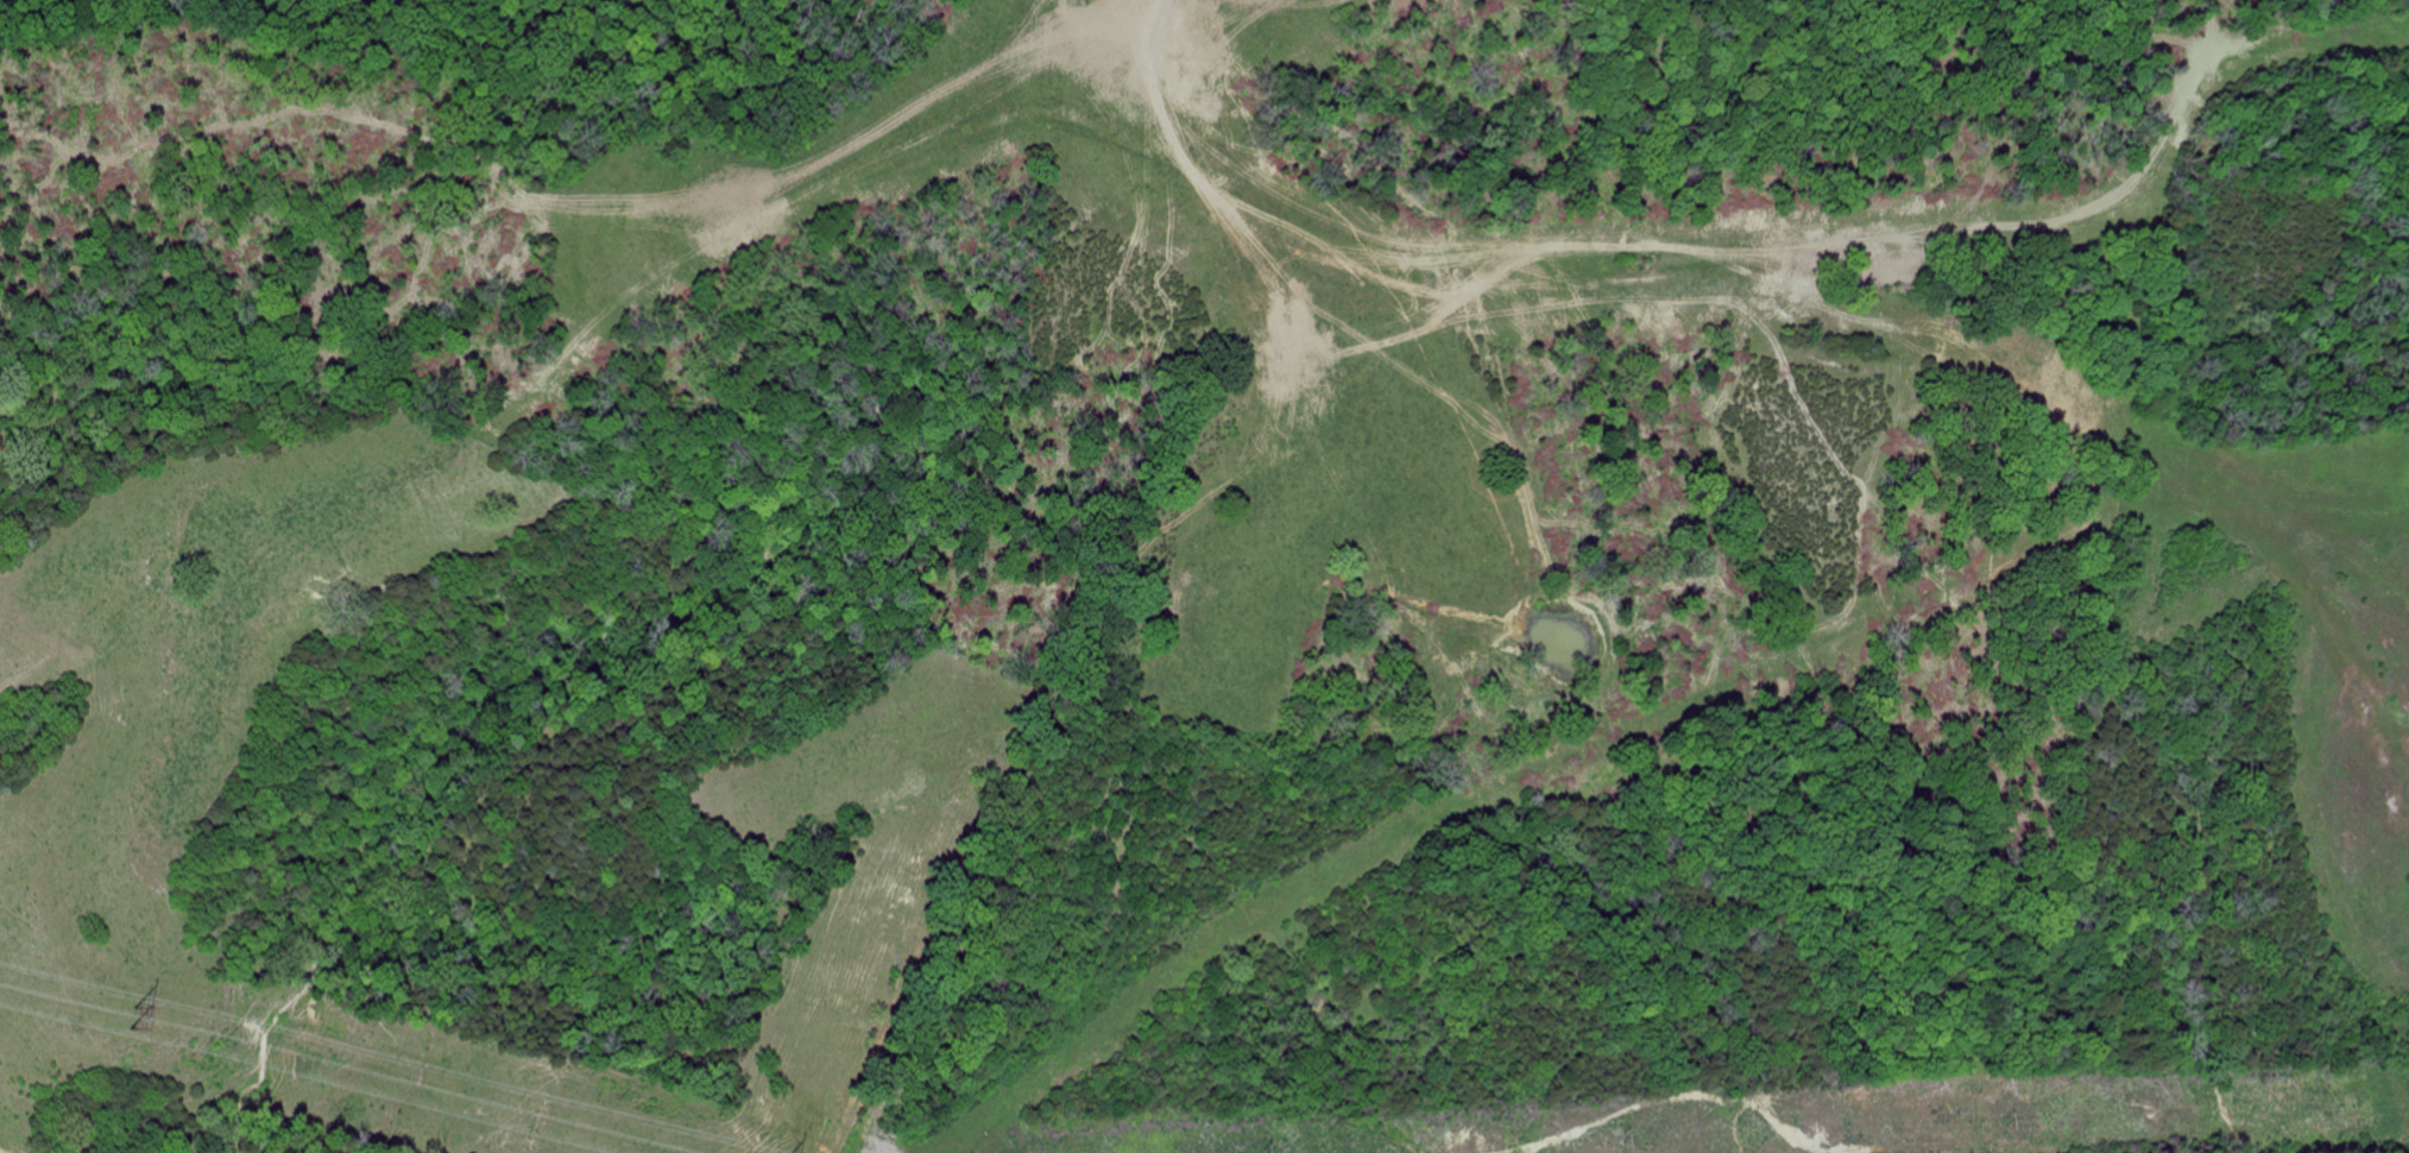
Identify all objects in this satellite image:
power tower: (147, 1013)
power tower: (2011, 1120)
power tower: (1623, 1136)
power tower: (1266, 1152)

